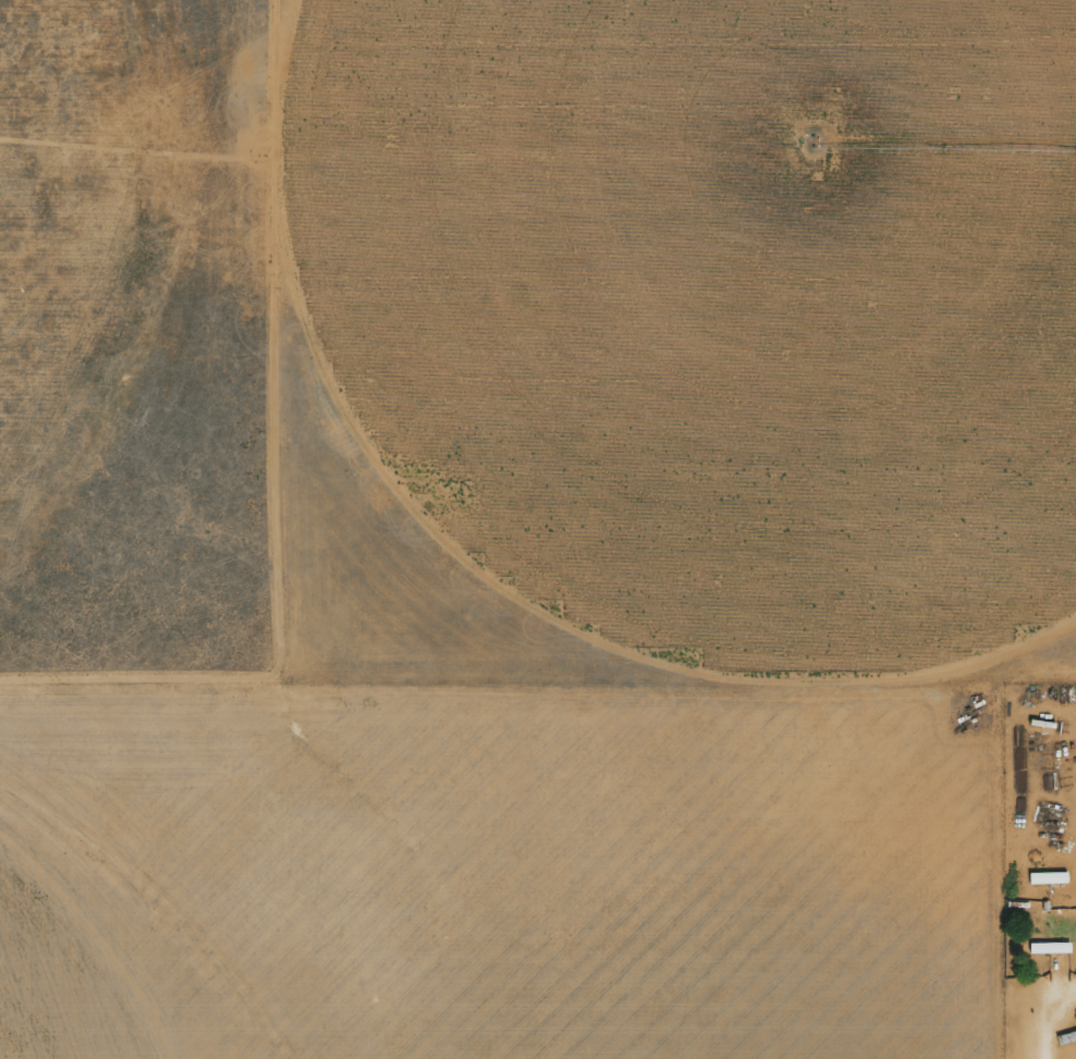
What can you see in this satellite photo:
road: (265, 472)
road: (482, 567)
road: (996, 833)
road: (157, 908)
road: (1038, 921)
building: (1046, 948)
road: (1041, 1005)

